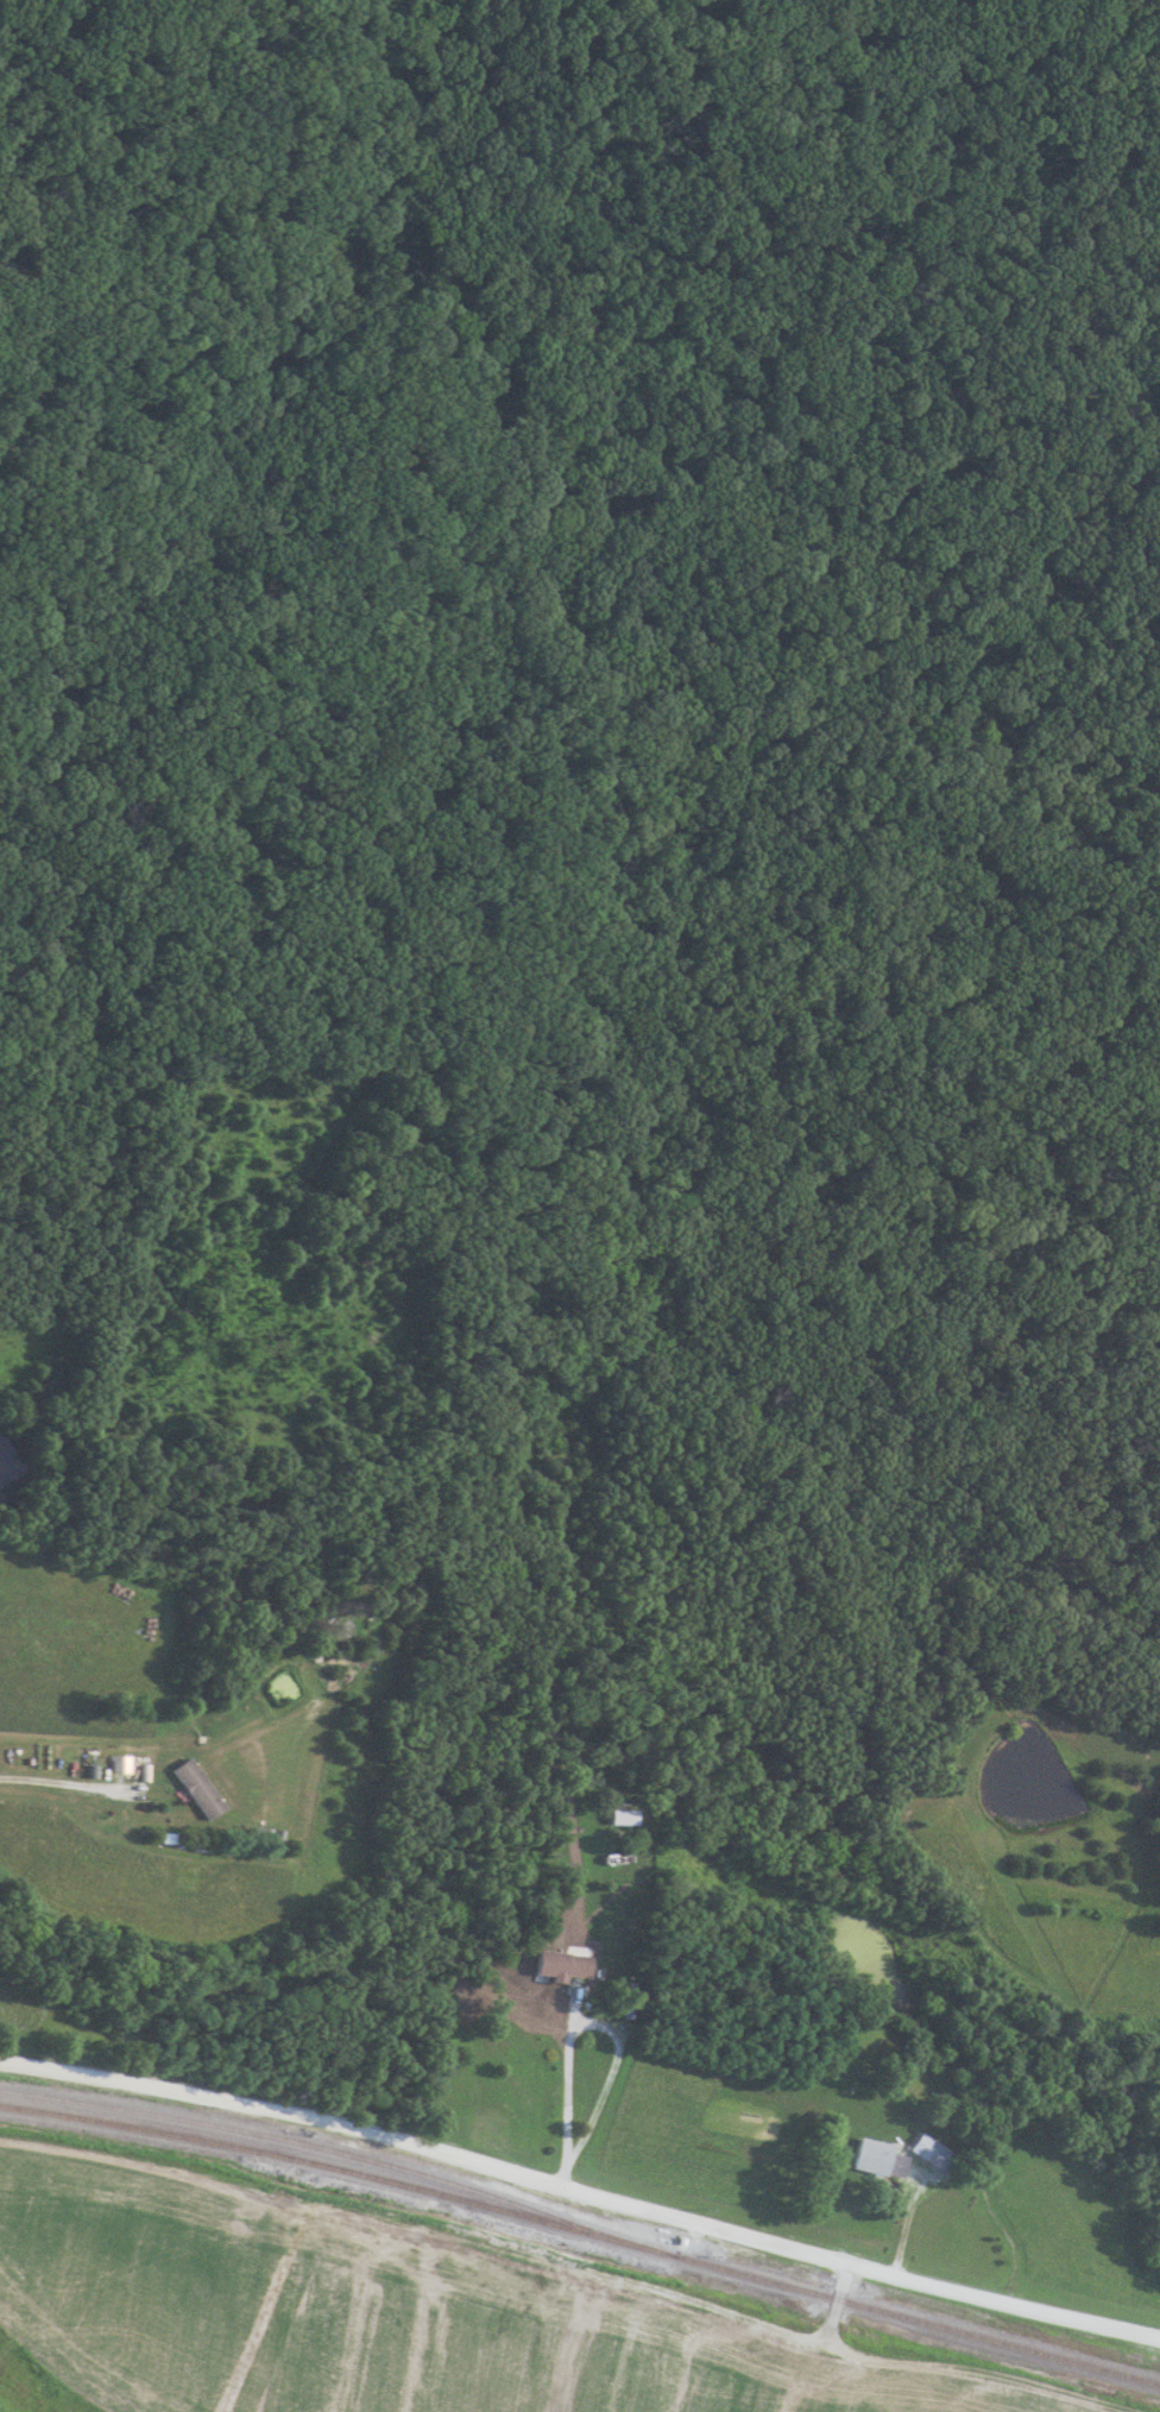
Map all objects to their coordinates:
road: (56, 1784)
building: (204, 1809)
building: (618, 1816)
building: (559, 1963)
road: (565, 2091)
railway: (330, 2150)
building: (926, 2150)
building: (875, 2159)
road: (580, 2196)
railway: (581, 2234)

